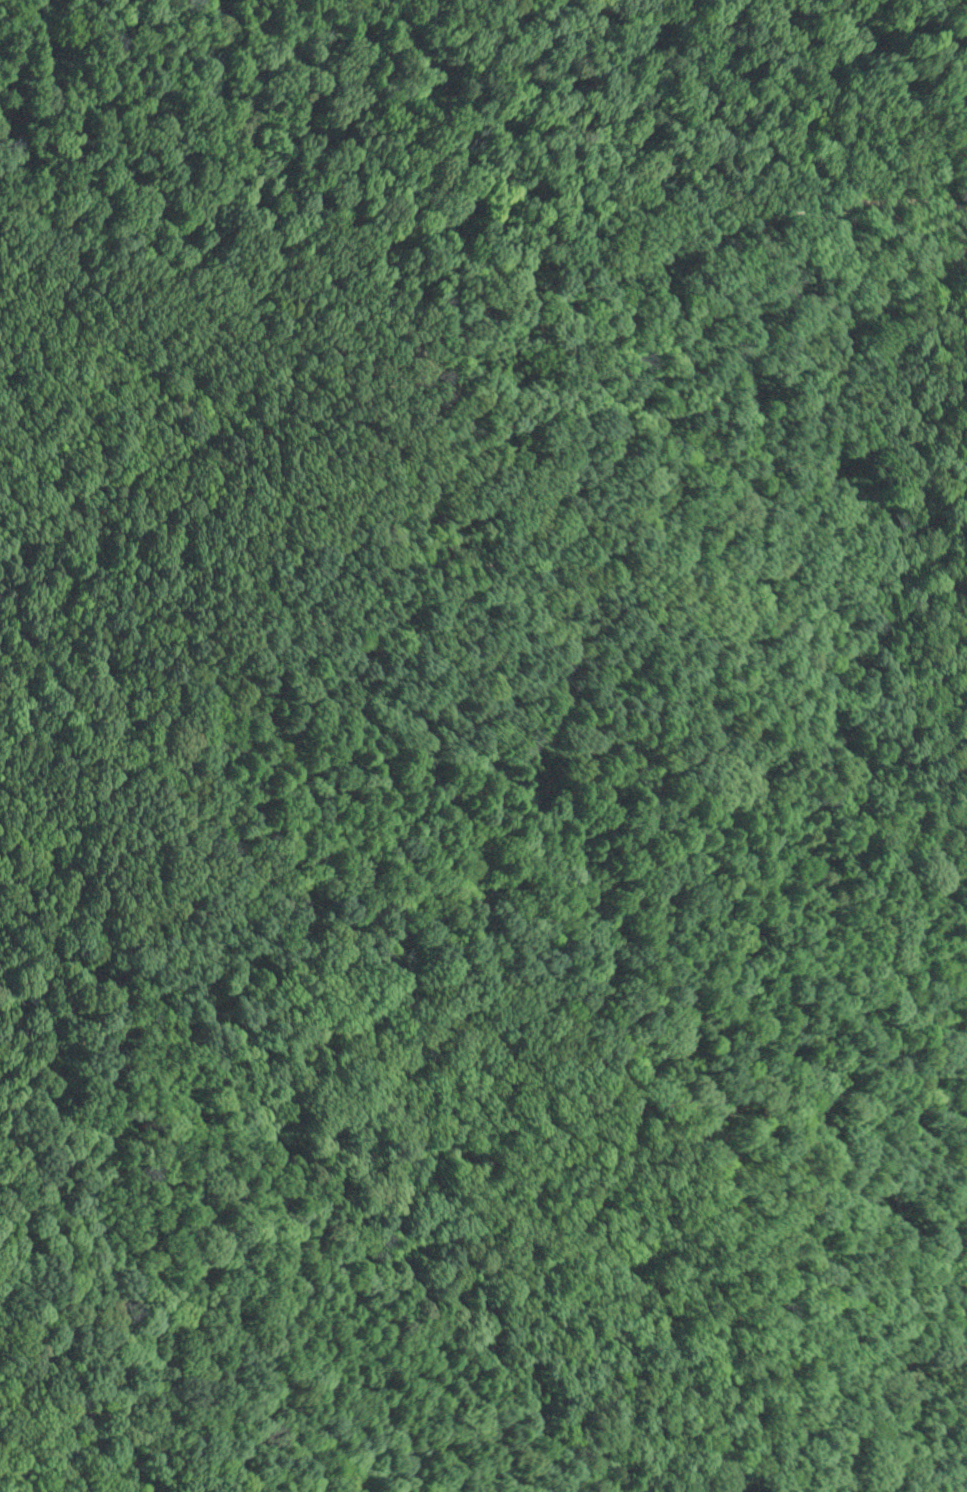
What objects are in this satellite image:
road: (938, 1457)

